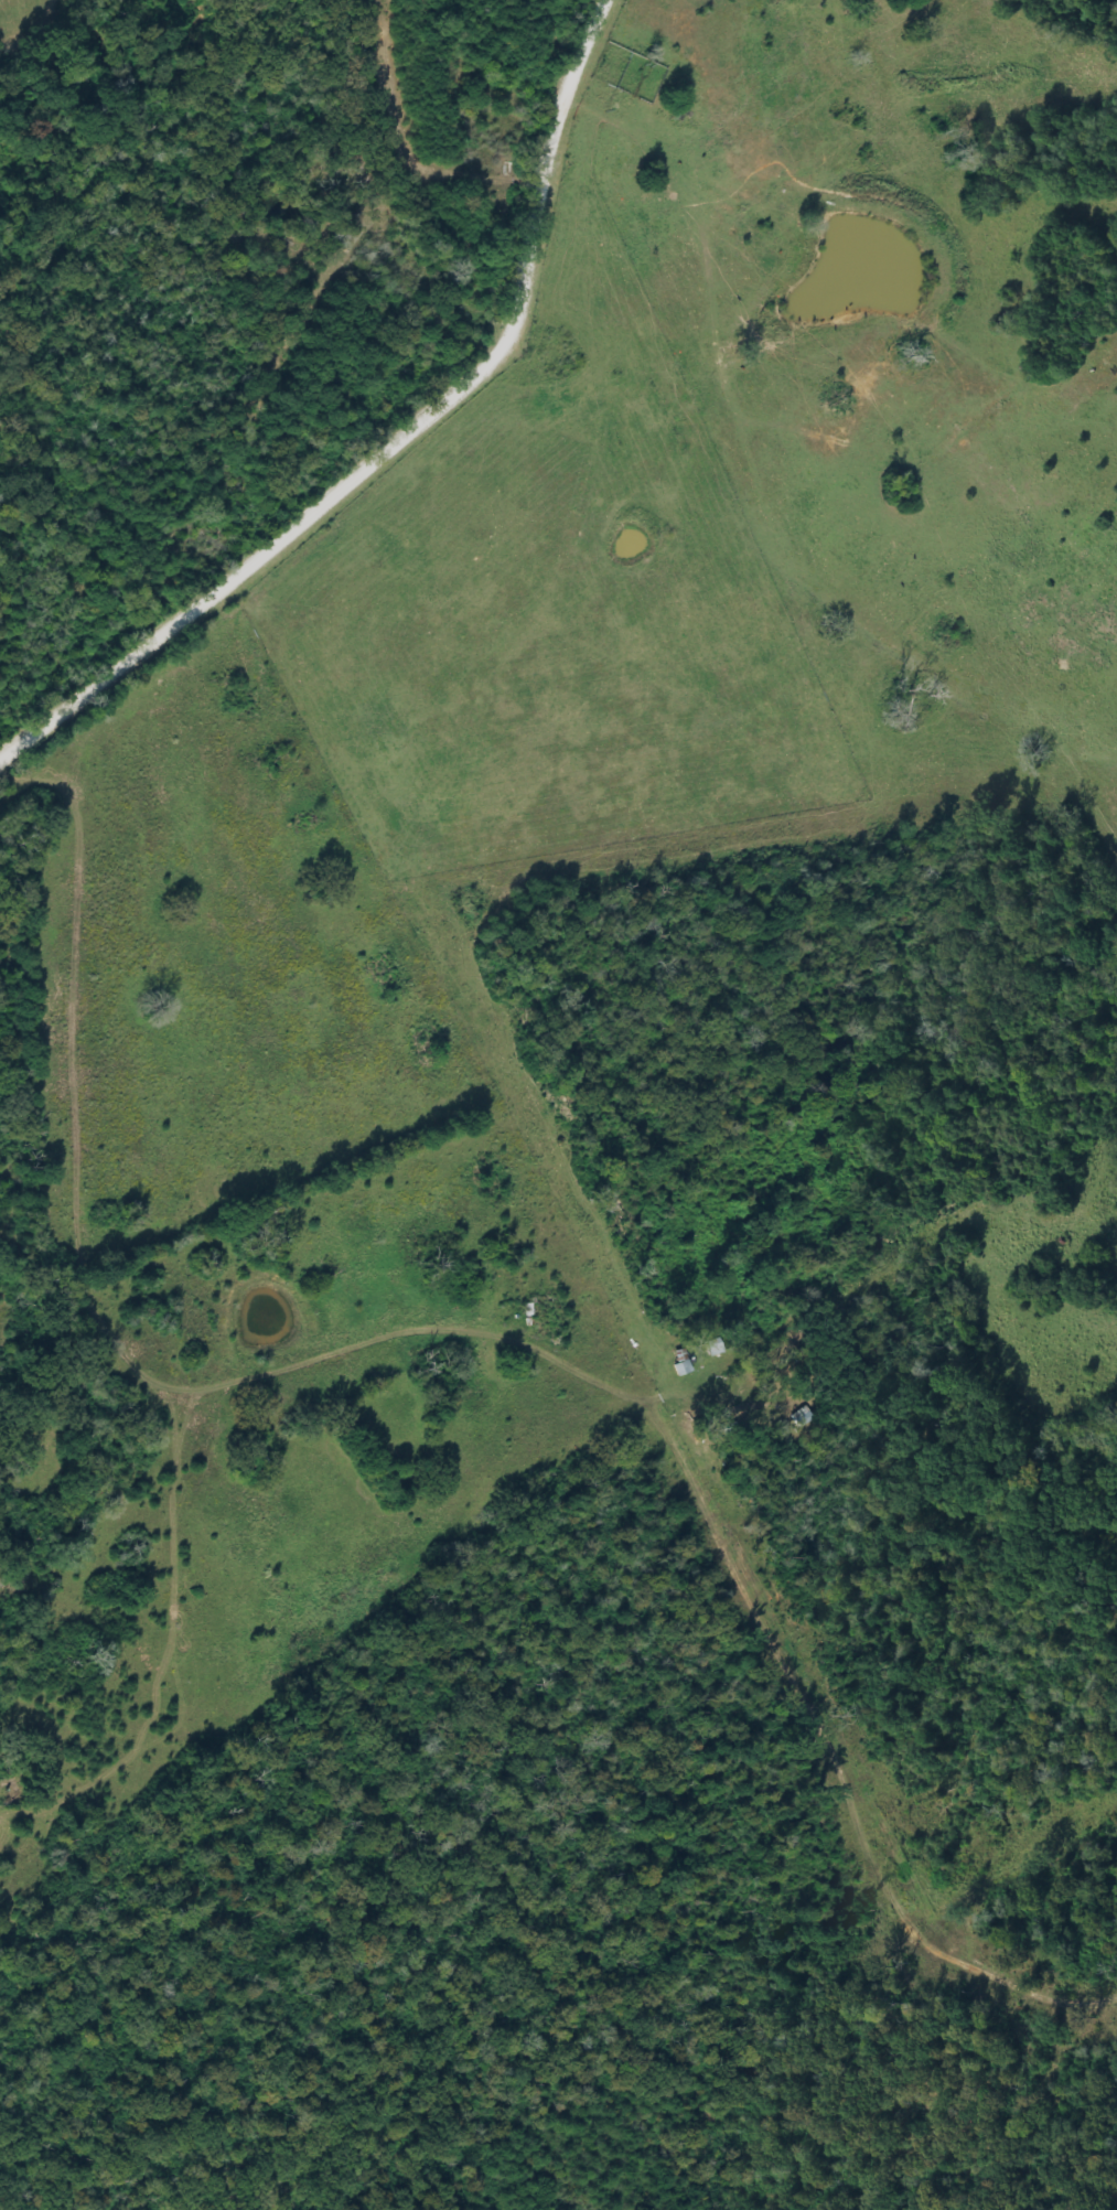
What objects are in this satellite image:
road: (391, 442)
road: (89, 1252)

